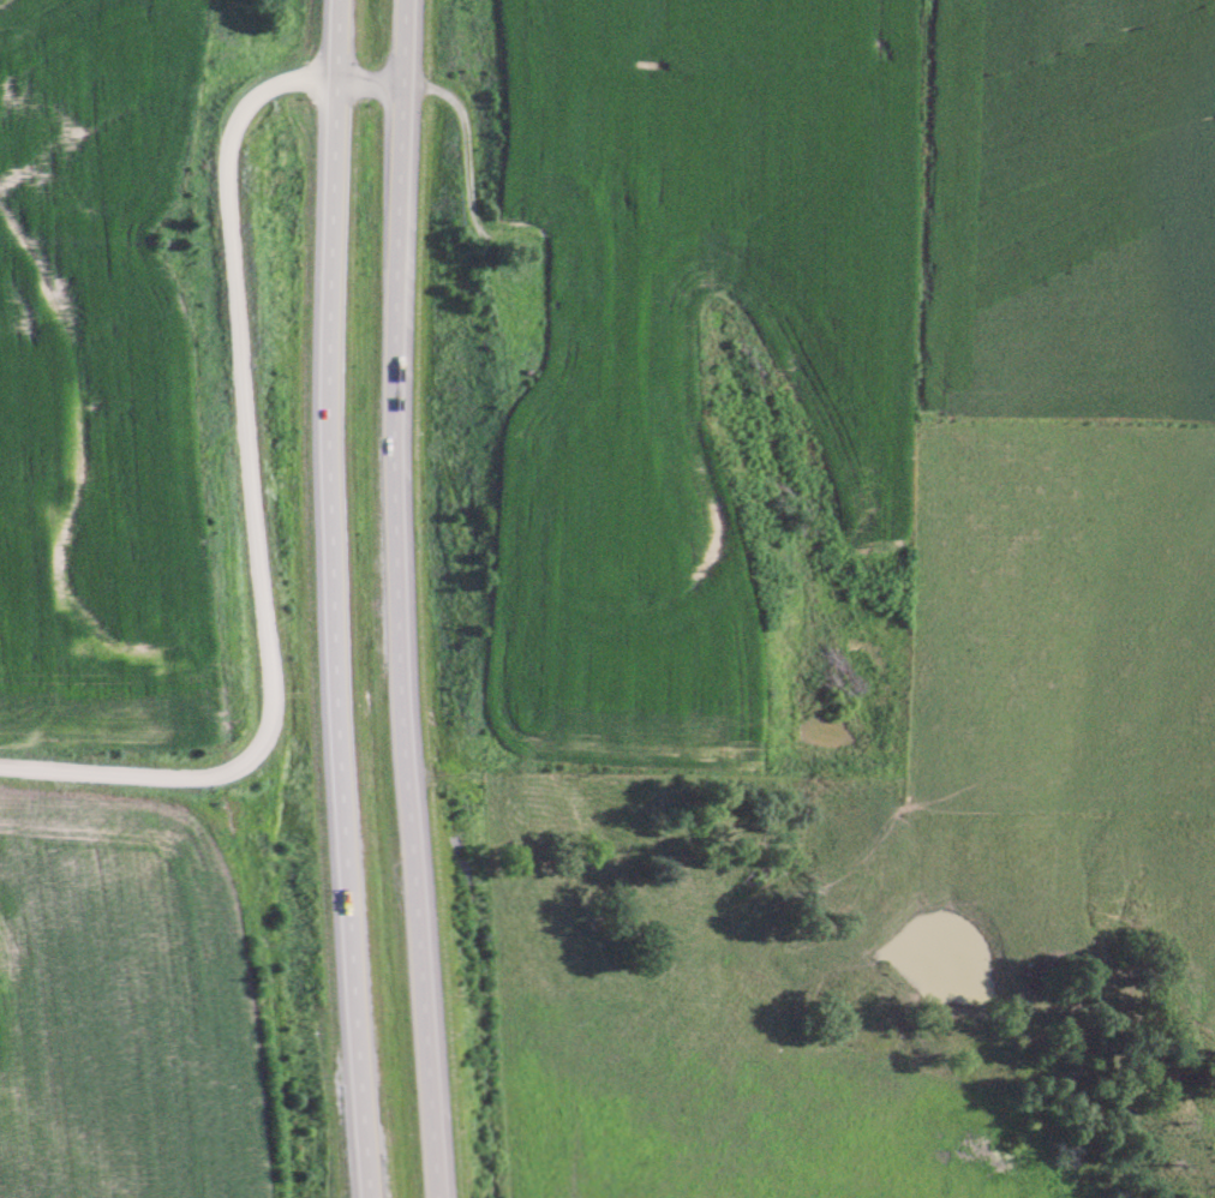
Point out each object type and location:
road: (243, 359)
road: (328, 599)
road: (405, 599)

